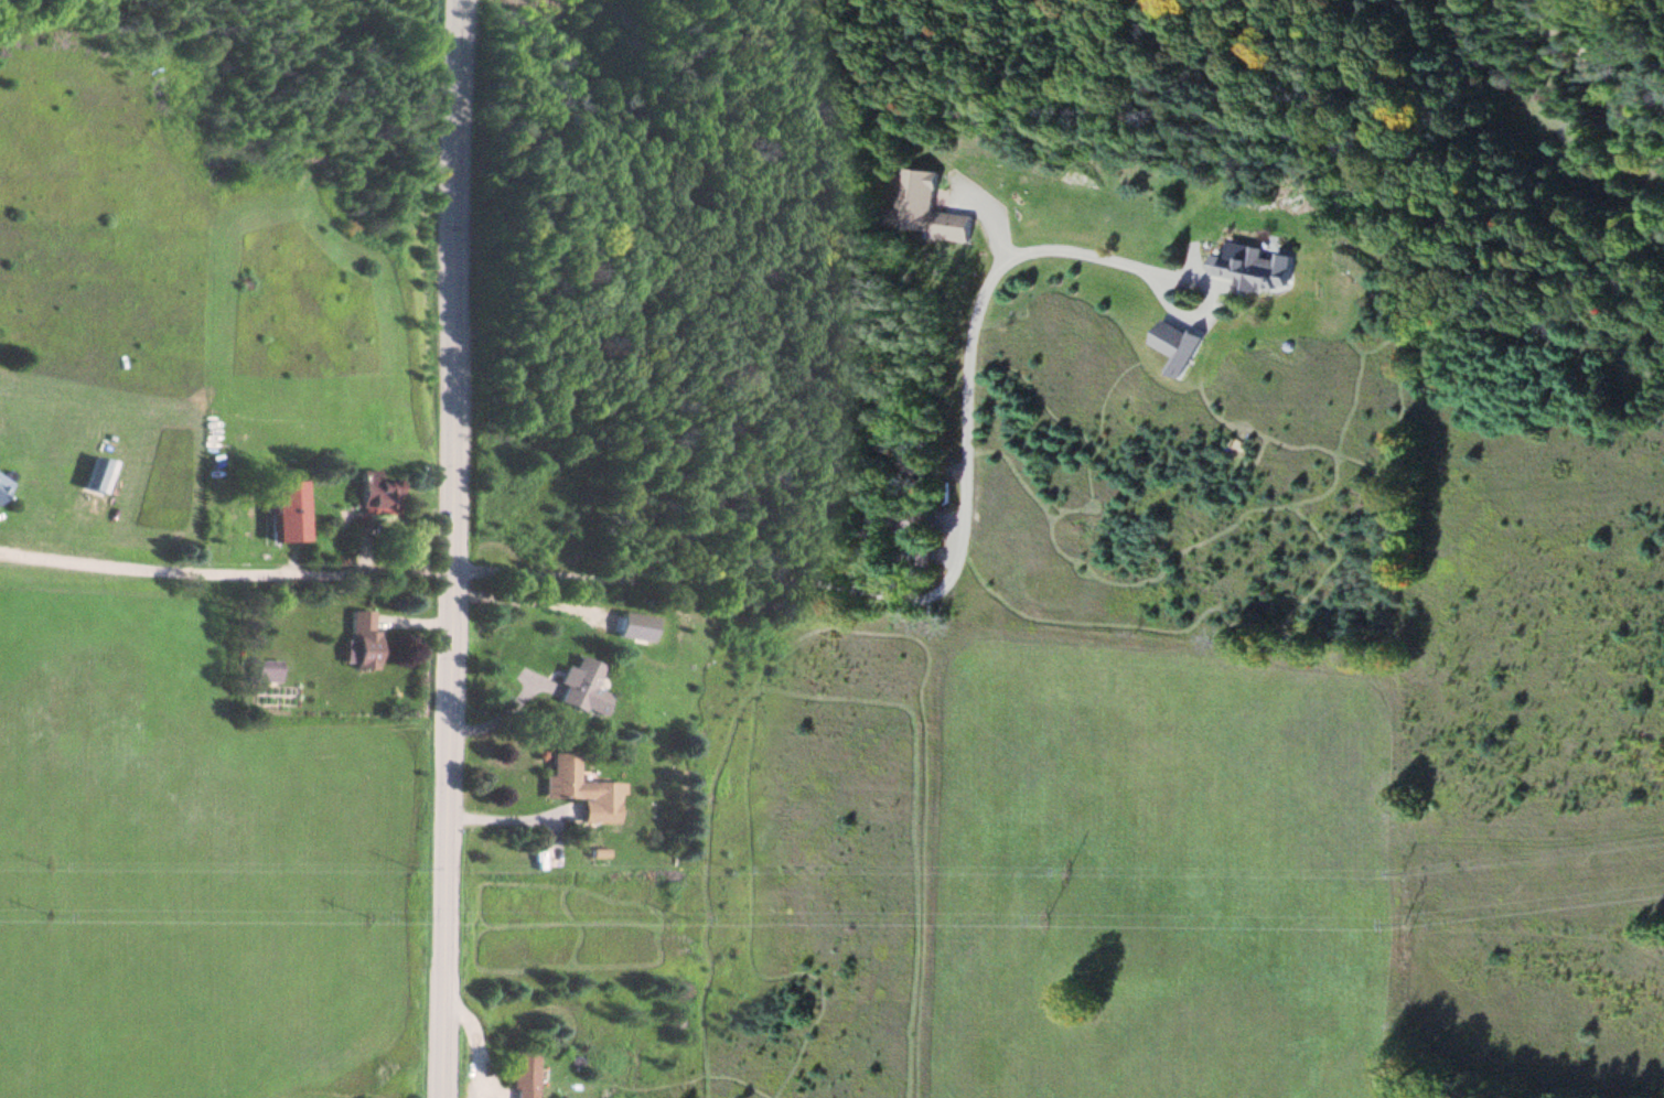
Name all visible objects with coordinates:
park: (223, 24)
building: (928, 209)
building: (1256, 268)
building: (1179, 346)
building: (99, 474)
building: (3, 485)
building: (377, 493)
building: (286, 505)
building: (916, 520)
road: (454, 549)
building: (923, 555)
building: (363, 639)
building: (268, 669)
building: (583, 686)
building: (583, 789)
building: (527, 1073)

